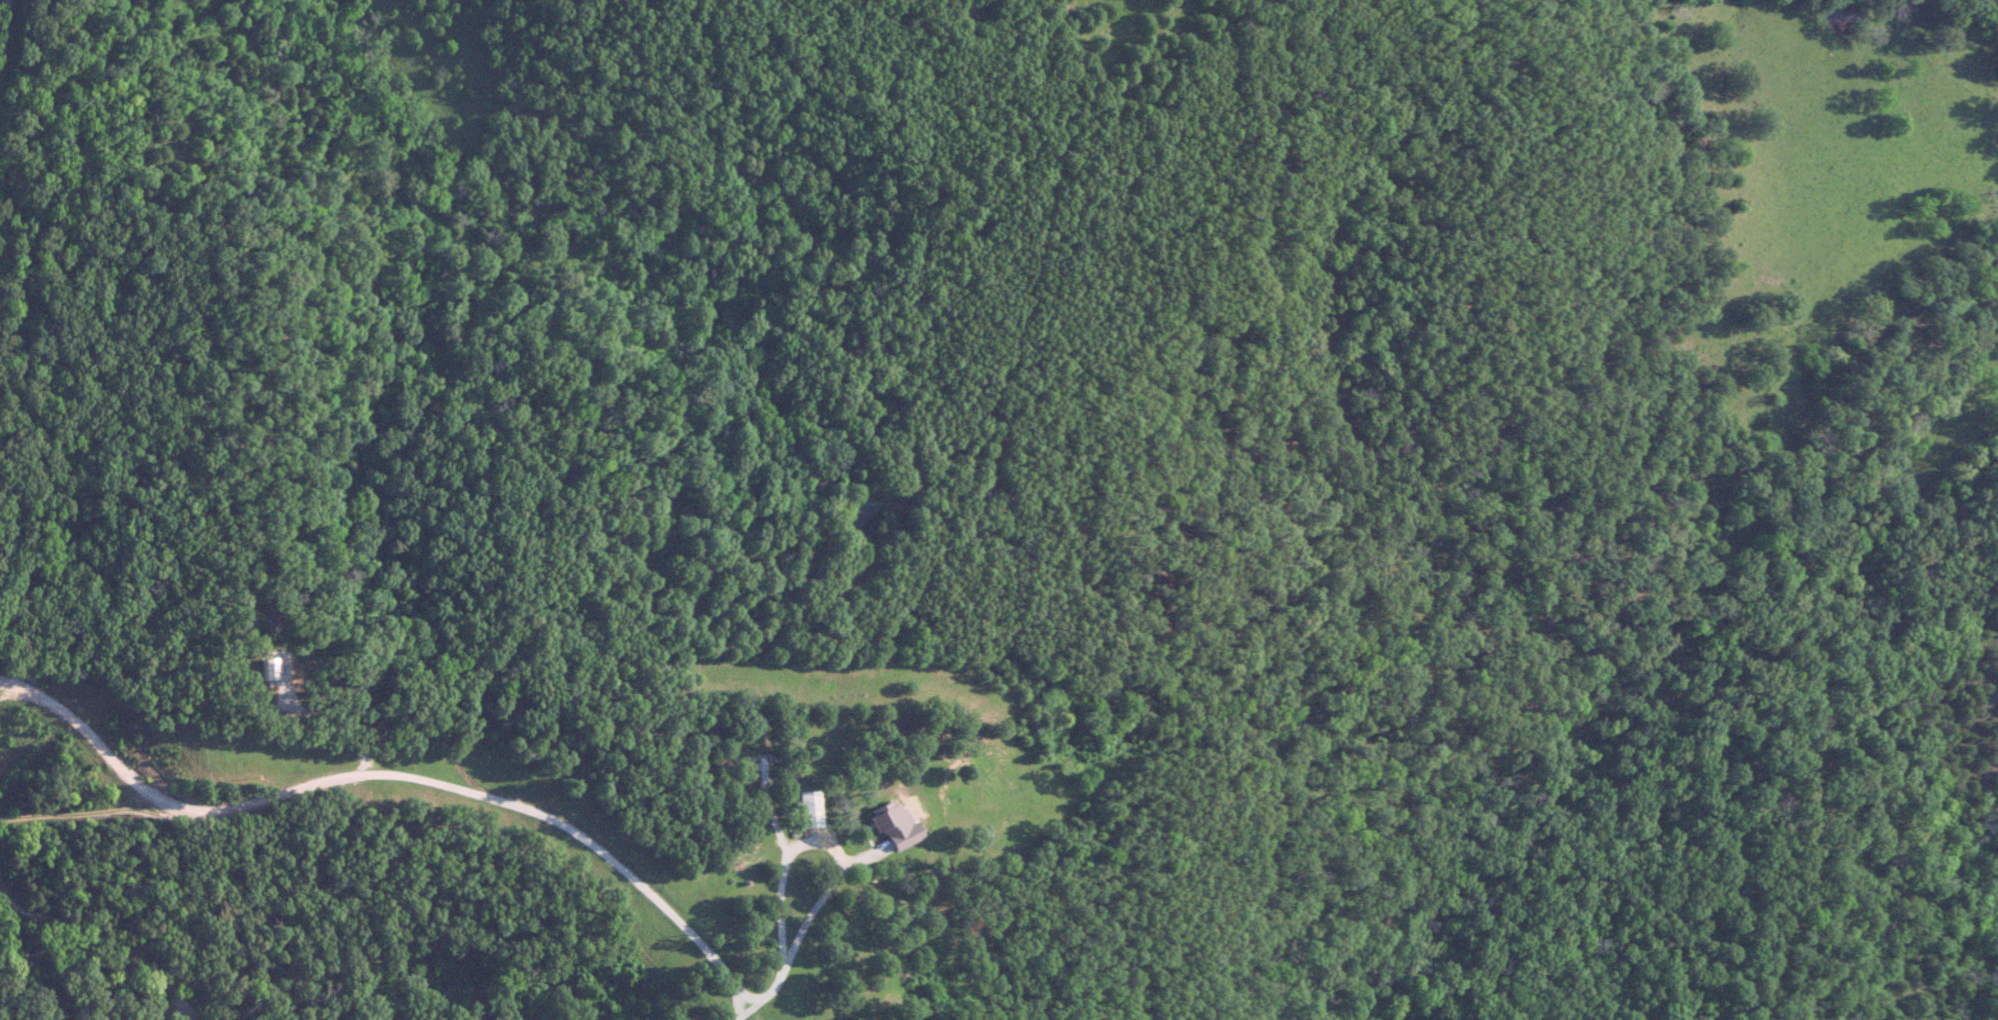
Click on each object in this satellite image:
road: (4, 24)
road: (393, 771)
building: (813, 808)
road: (834, 852)
road: (110, 940)
road: (740, 1012)

